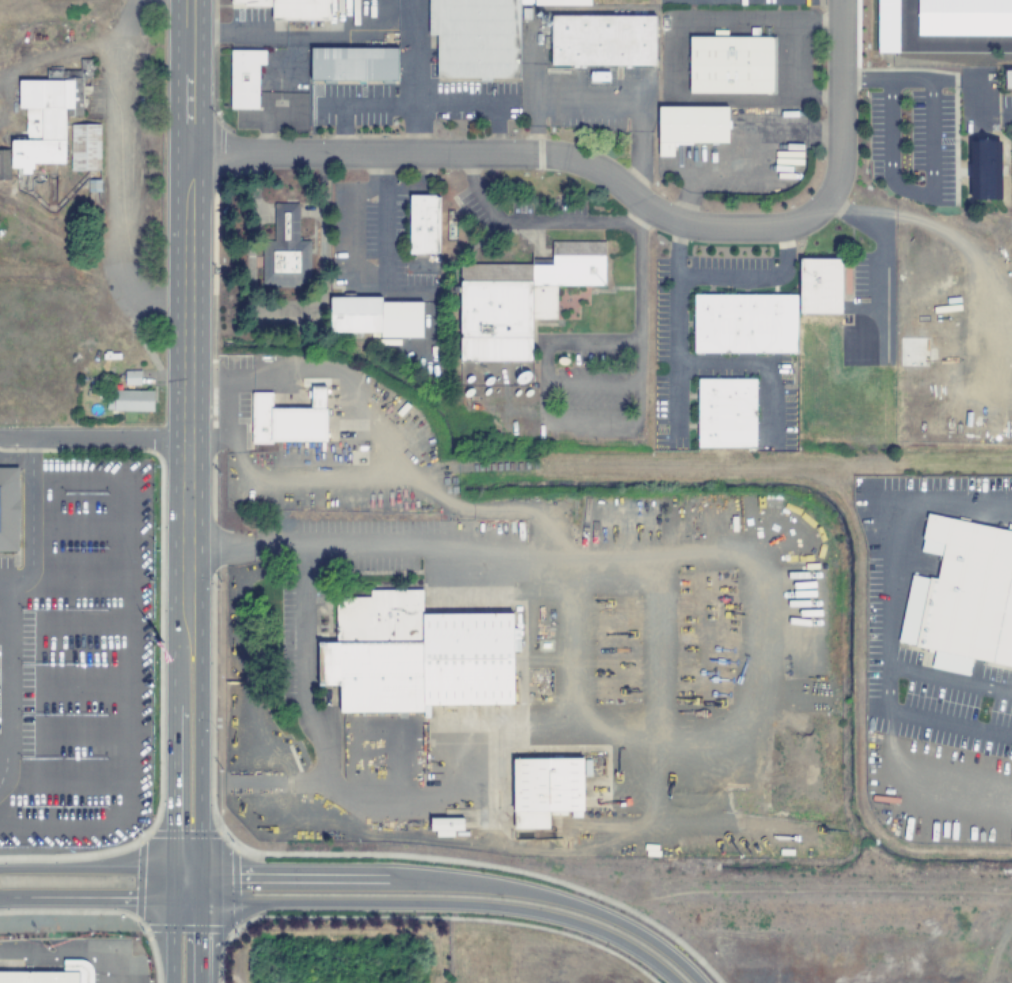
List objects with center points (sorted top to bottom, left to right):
building: (253, 2)
building: (563, 2)
building: (301, 9)
building: (963, 17)
building: (884, 25)
building: (475, 38)
building: (603, 40)
building: (353, 63)
building: (730, 65)
building: (245, 78)
building: (1007, 78)
road: (841, 92)
building: (50, 113)
building: (690, 127)
building: (85, 147)
road: (530, 154)
building: (4, 164)
building: (984, 169)
building: (93, 185)
road: (186, 214)
building: (423, 224)
building: (286, 251)
building: (820, 286)
building: (519, 298)
building: (376, 316)
building: (744, 323)
building: (132, 378)
building: (131, 401)
building: (726, 413)
building: (292, 421)
road: (92, 428)
road: (92, 437)
building: (9, 508)
building: (962, 596)
road: (5, 600)
building: (416, 655)
road: (182, 705)
building: (587, 767)
building: (546, 790)
building: (445, 826)
road: (91, 873)
road: (452, 880)
road: (91, 899)
road: (436, 904)
building: (54, 974)

